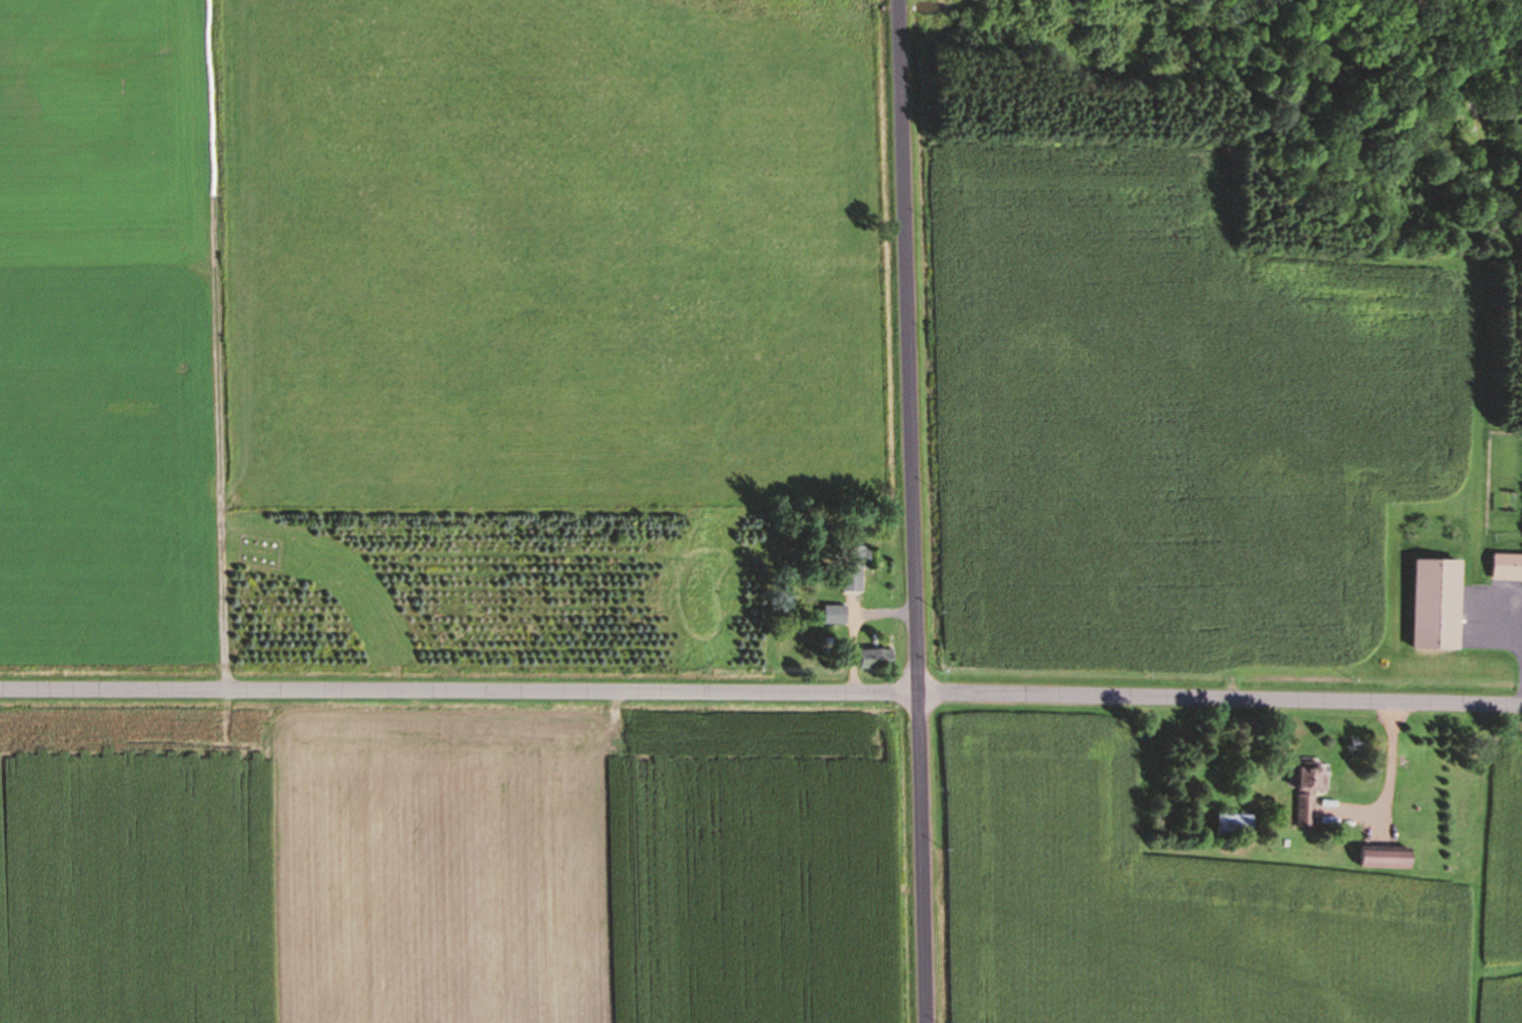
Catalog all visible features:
road: (913, 511)
road: (225, 517)
building: (1508, 567)
building: (853, 569)
building: (1437, 604)
building: (837, 614)
building: (879, 656)
road: (761, 693)
building: (1311, 783)
building: (1236, 824)
building: (1386, 858)

